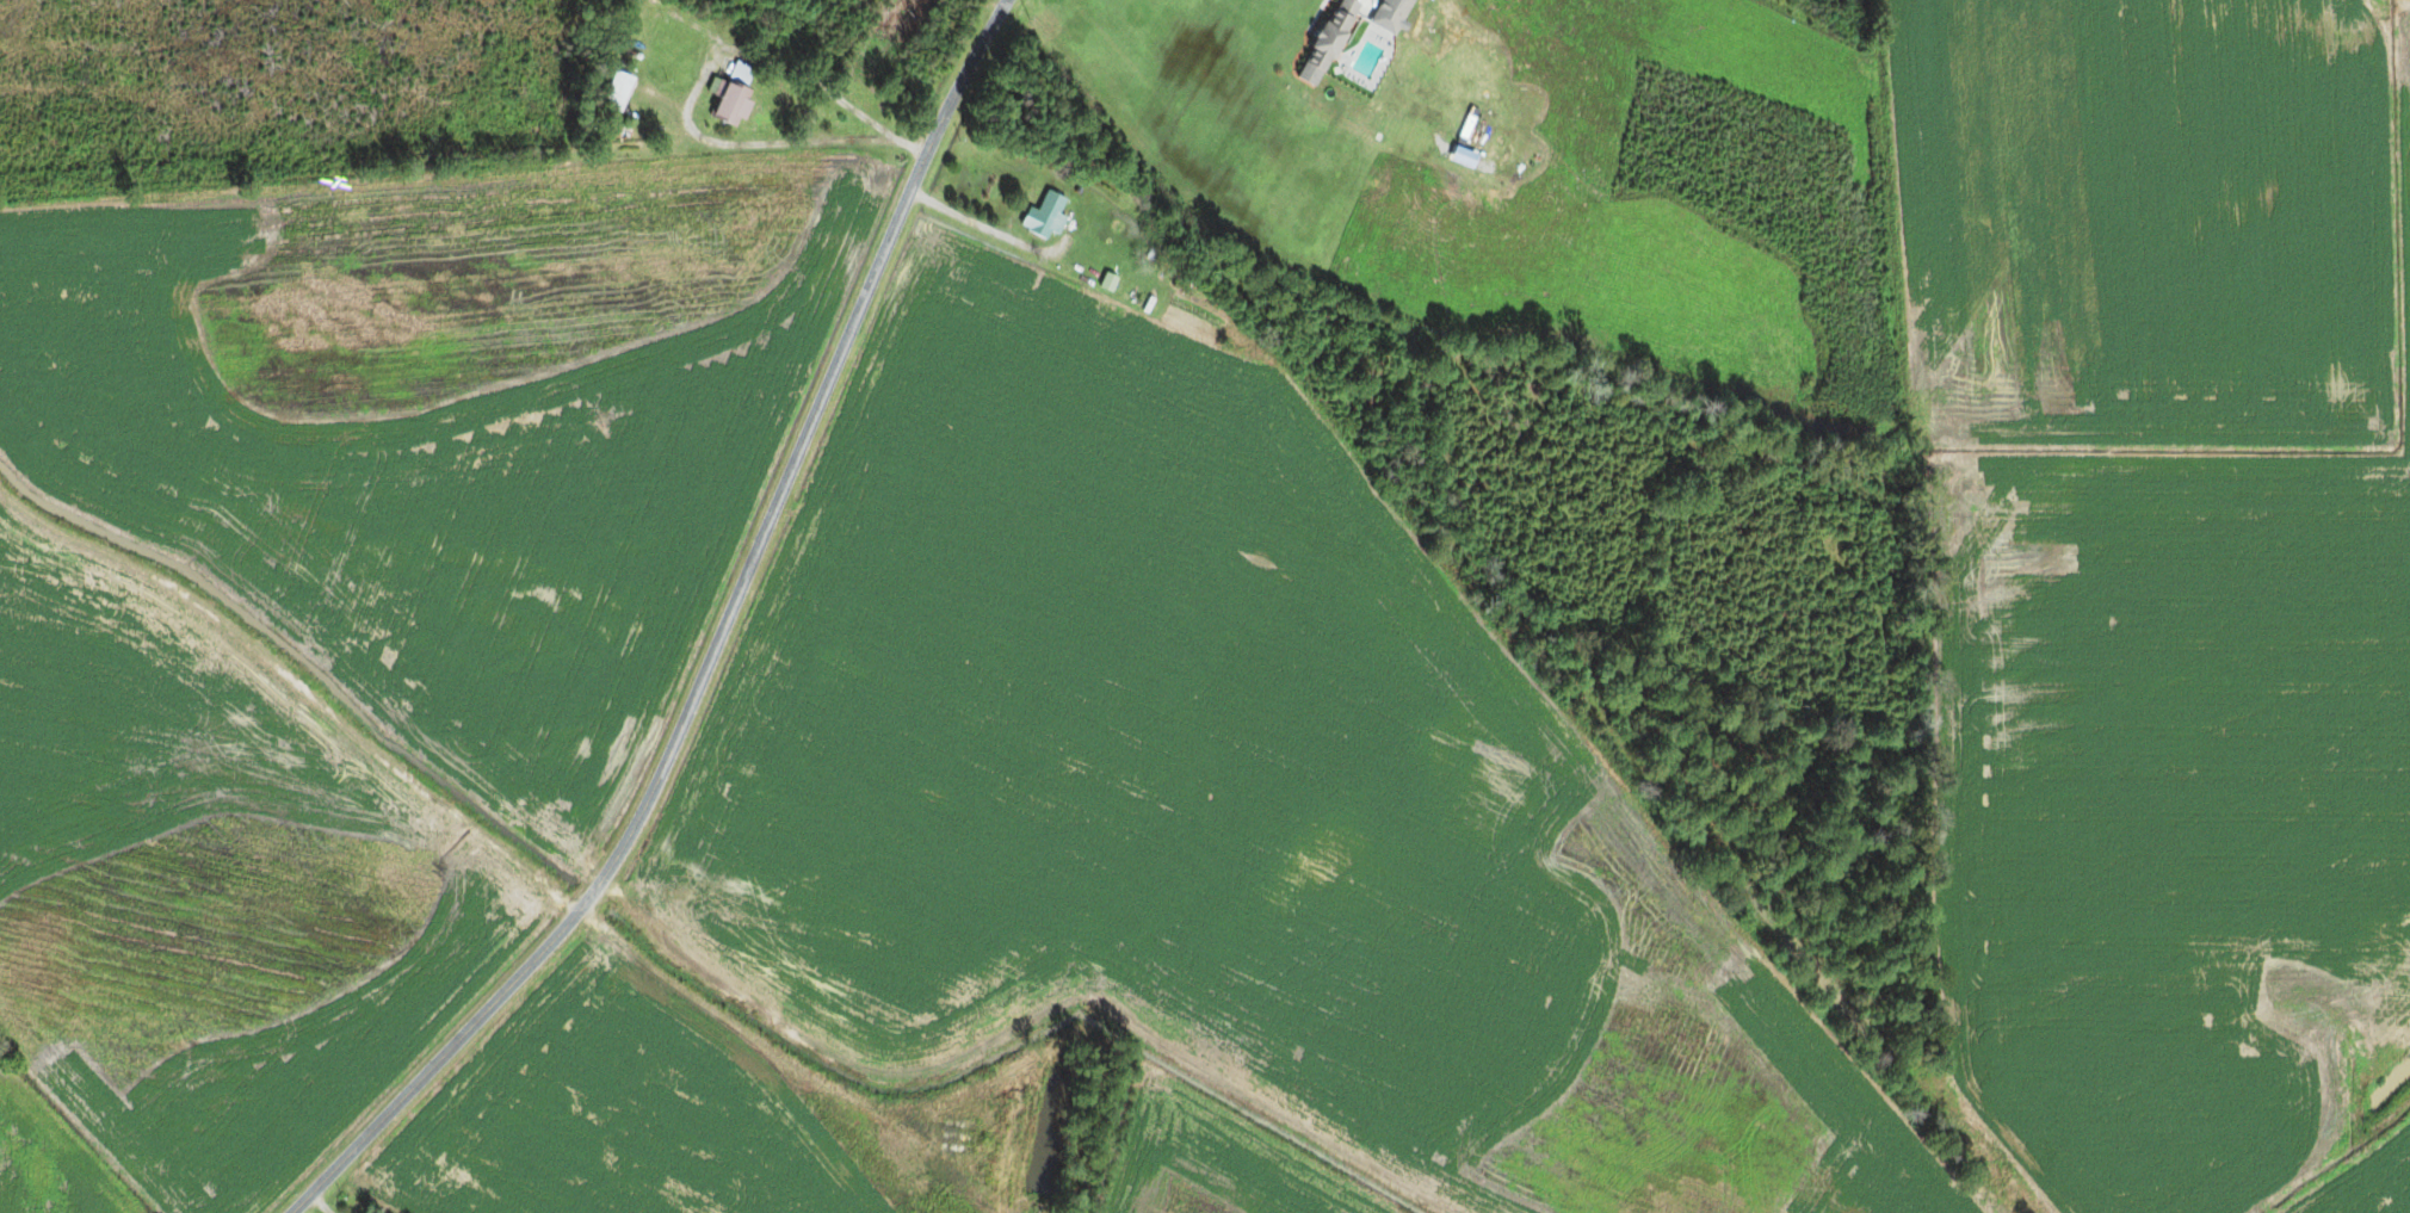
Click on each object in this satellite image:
building: (1390, 14)
building: (1325, 42)
building: (733, 92)
building: (619, 93)
building: (1044, 216)
building: (1107, 283)
road: (715, 649)
road: (438, 800)
road: (320, 1202)

